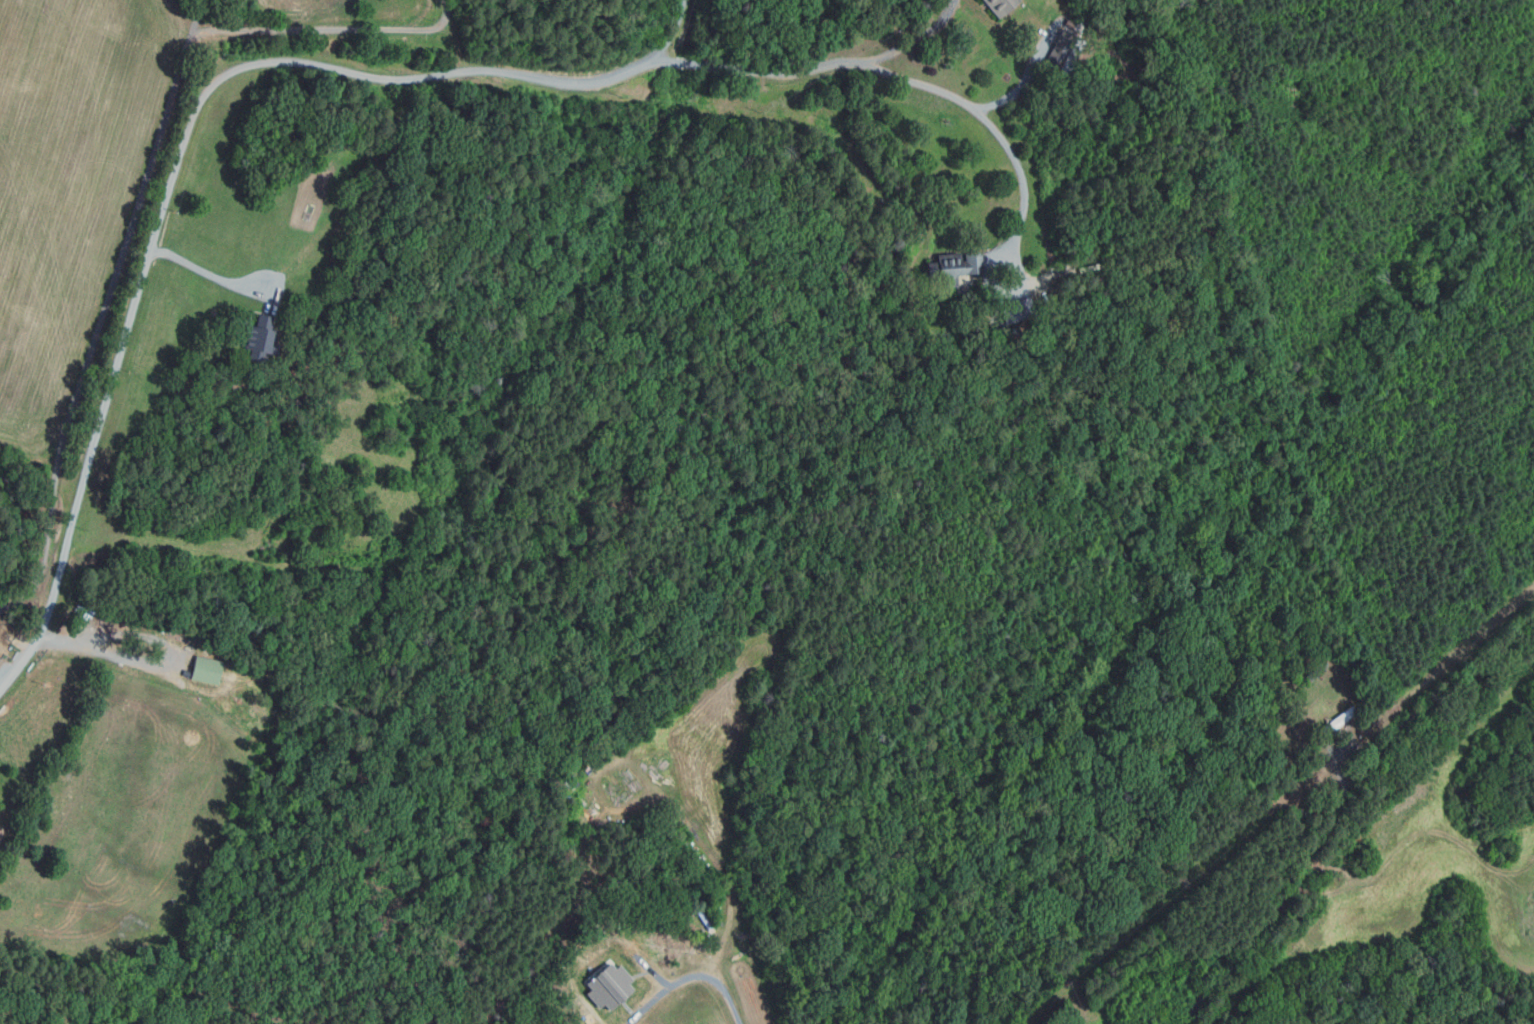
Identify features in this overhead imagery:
building: (1001, 6)
road: (194, 19)
road: (328, 28)
road: (671, 32)
road: (917, 38)
building: (1063, 53)
road: (384, 77)
road: (1024, 79)
road: (1024, 176)
building: (953, 265)
road: (210, 275)
building: (1002, 314)
road: (98, 331)
building: (259, 337)
road: (56, 599)
road: (165, 665)
building: (205, 669)
building: (1317, 672)
building: (1337, 720)
road: (1342, 798)

